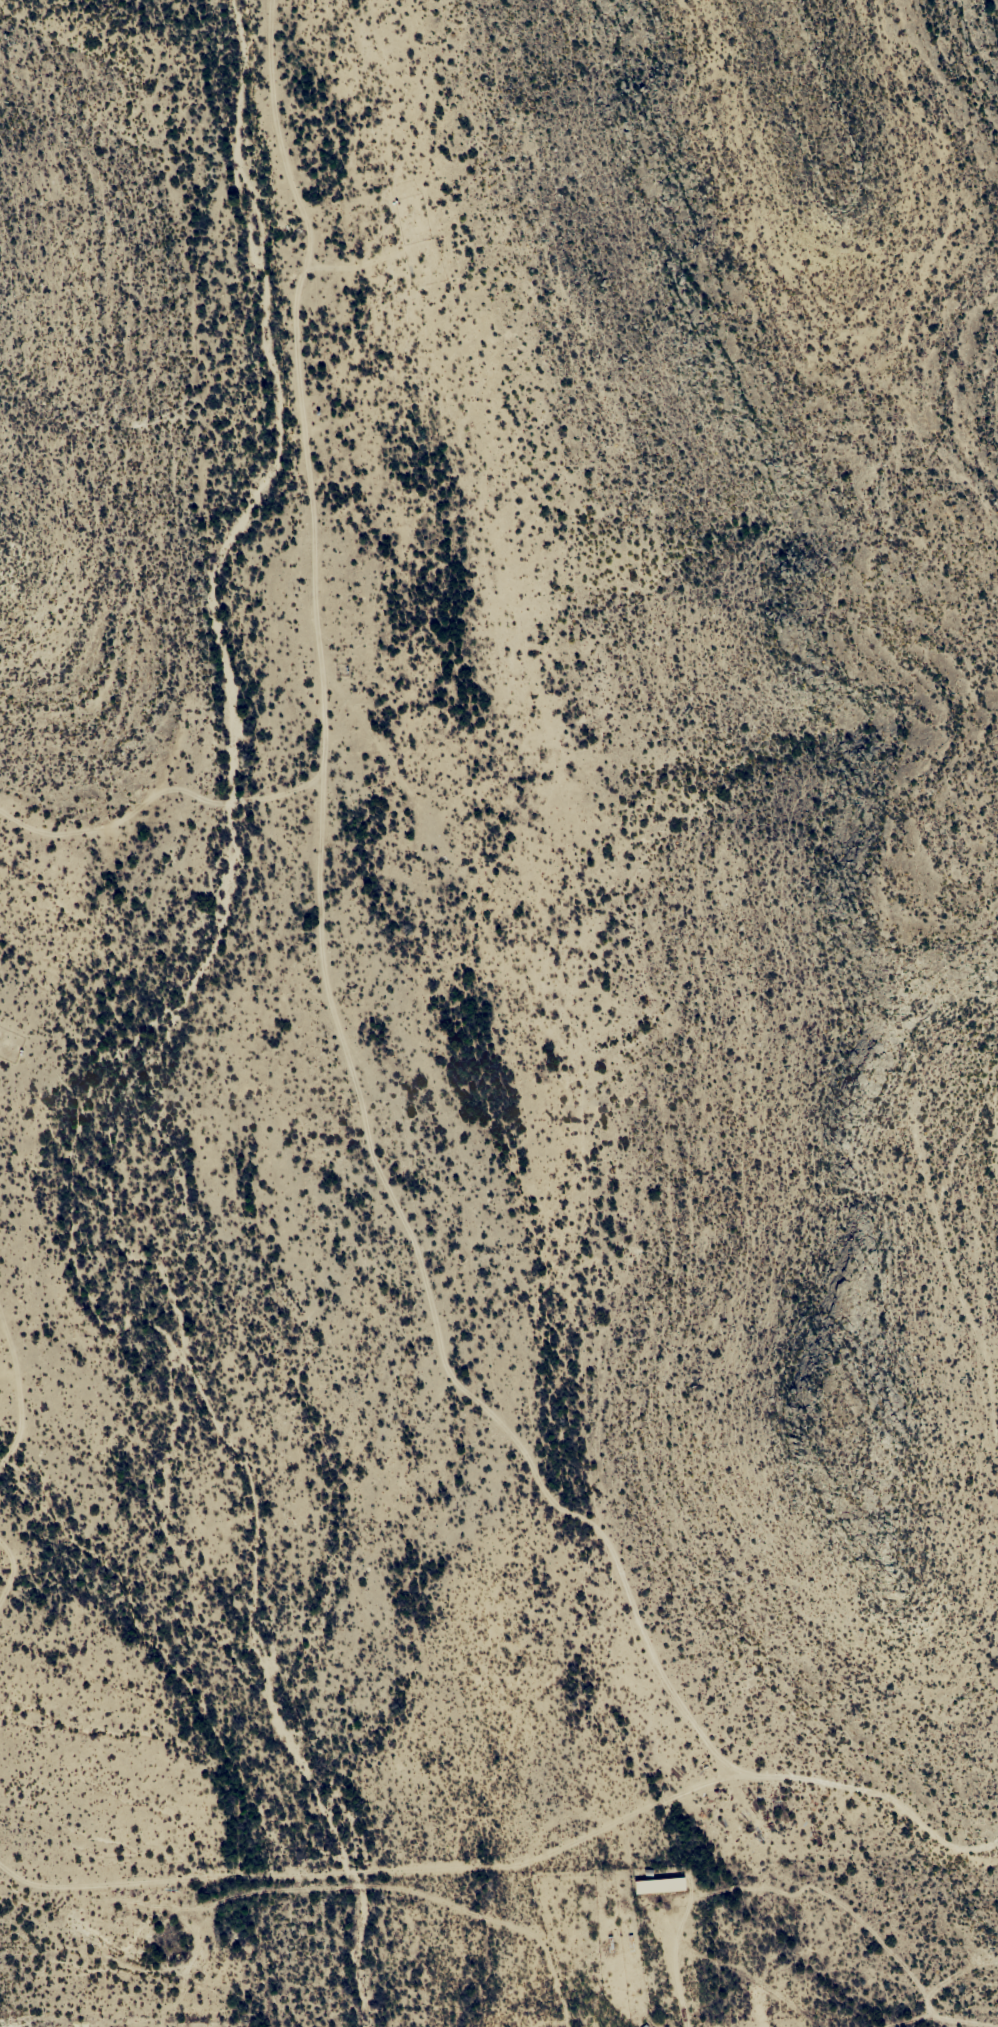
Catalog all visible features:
building: (657, 1886)

